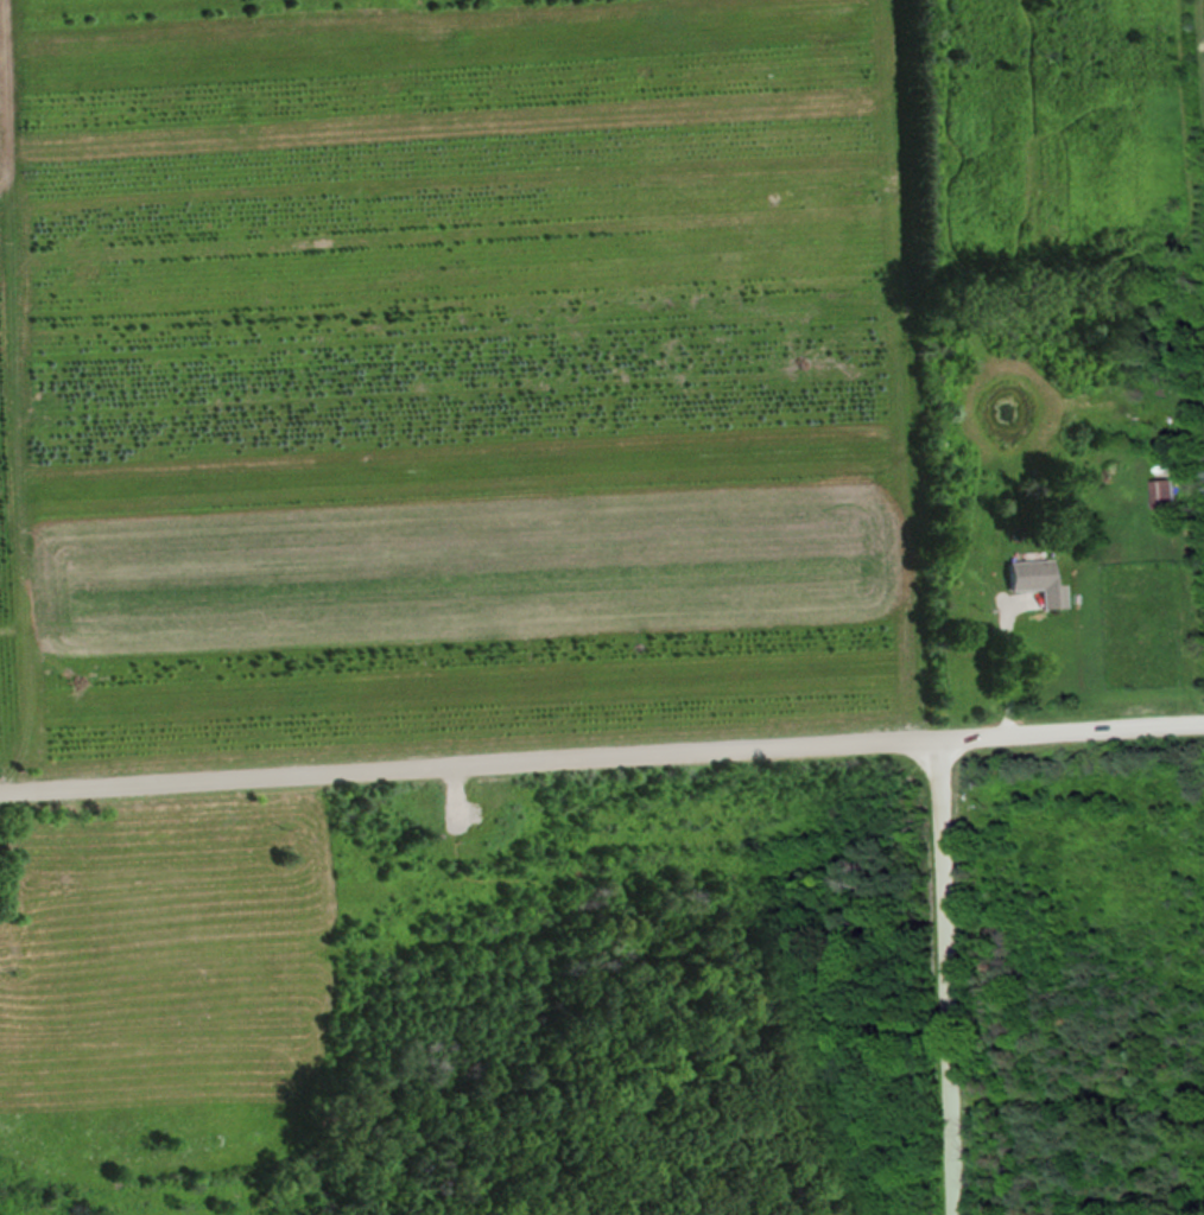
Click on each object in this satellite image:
building: (1165, 486)
building: (1038, 579)
road: (1000, 661)
road: (601, 751)
road: (451, 784)
parking lot: (455, 806)
road: (940, 973)

